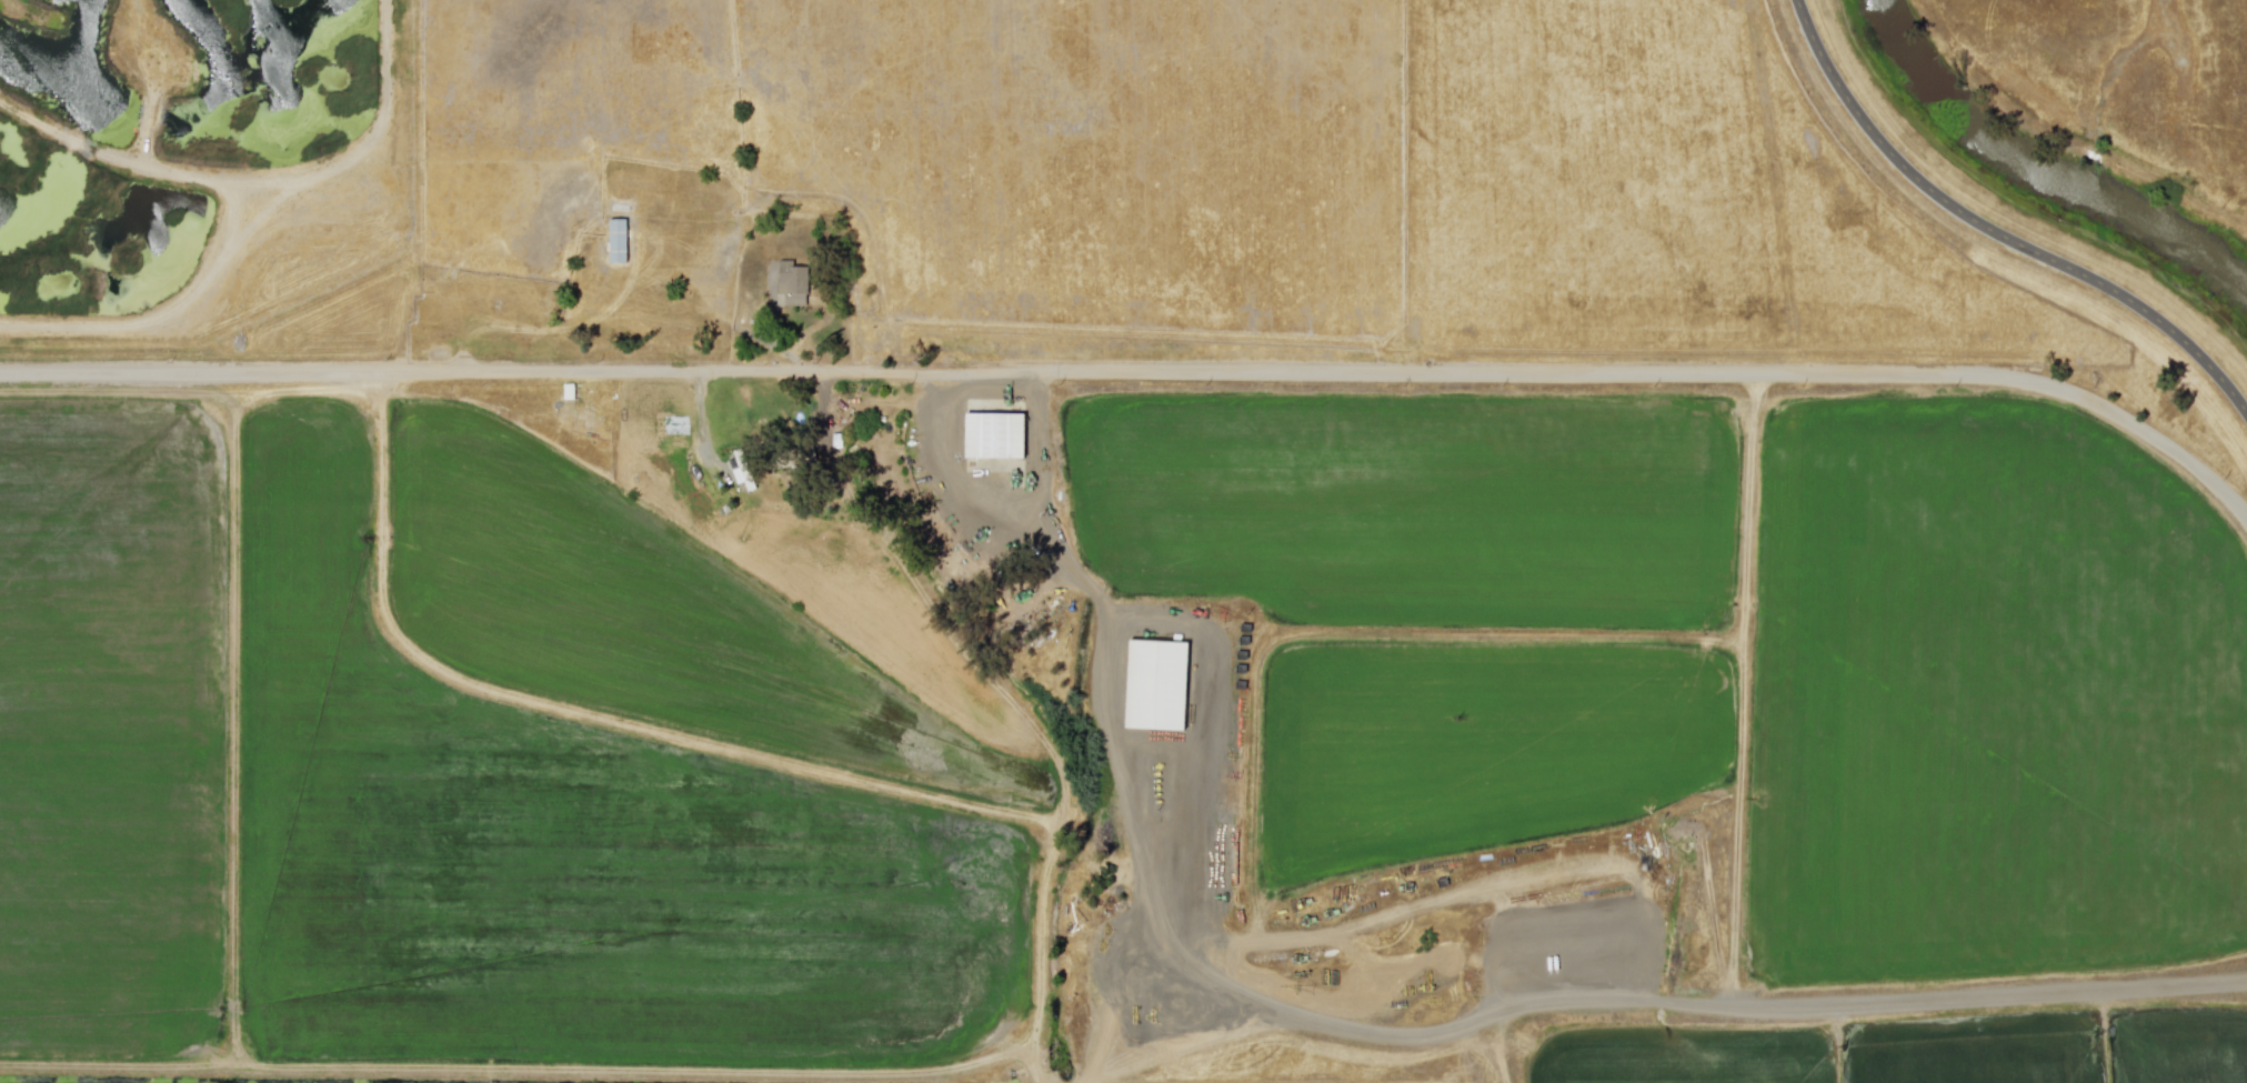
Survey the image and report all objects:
road: (1995, 232)
building: (616, 240)
building: (792, 282)
road: (1147, 362)
building: (566, 391)
building: (993, 434)
road: (1034, 440)
road: (1739, 681)
building: (1155, 684)
road: (1366, 1024)

